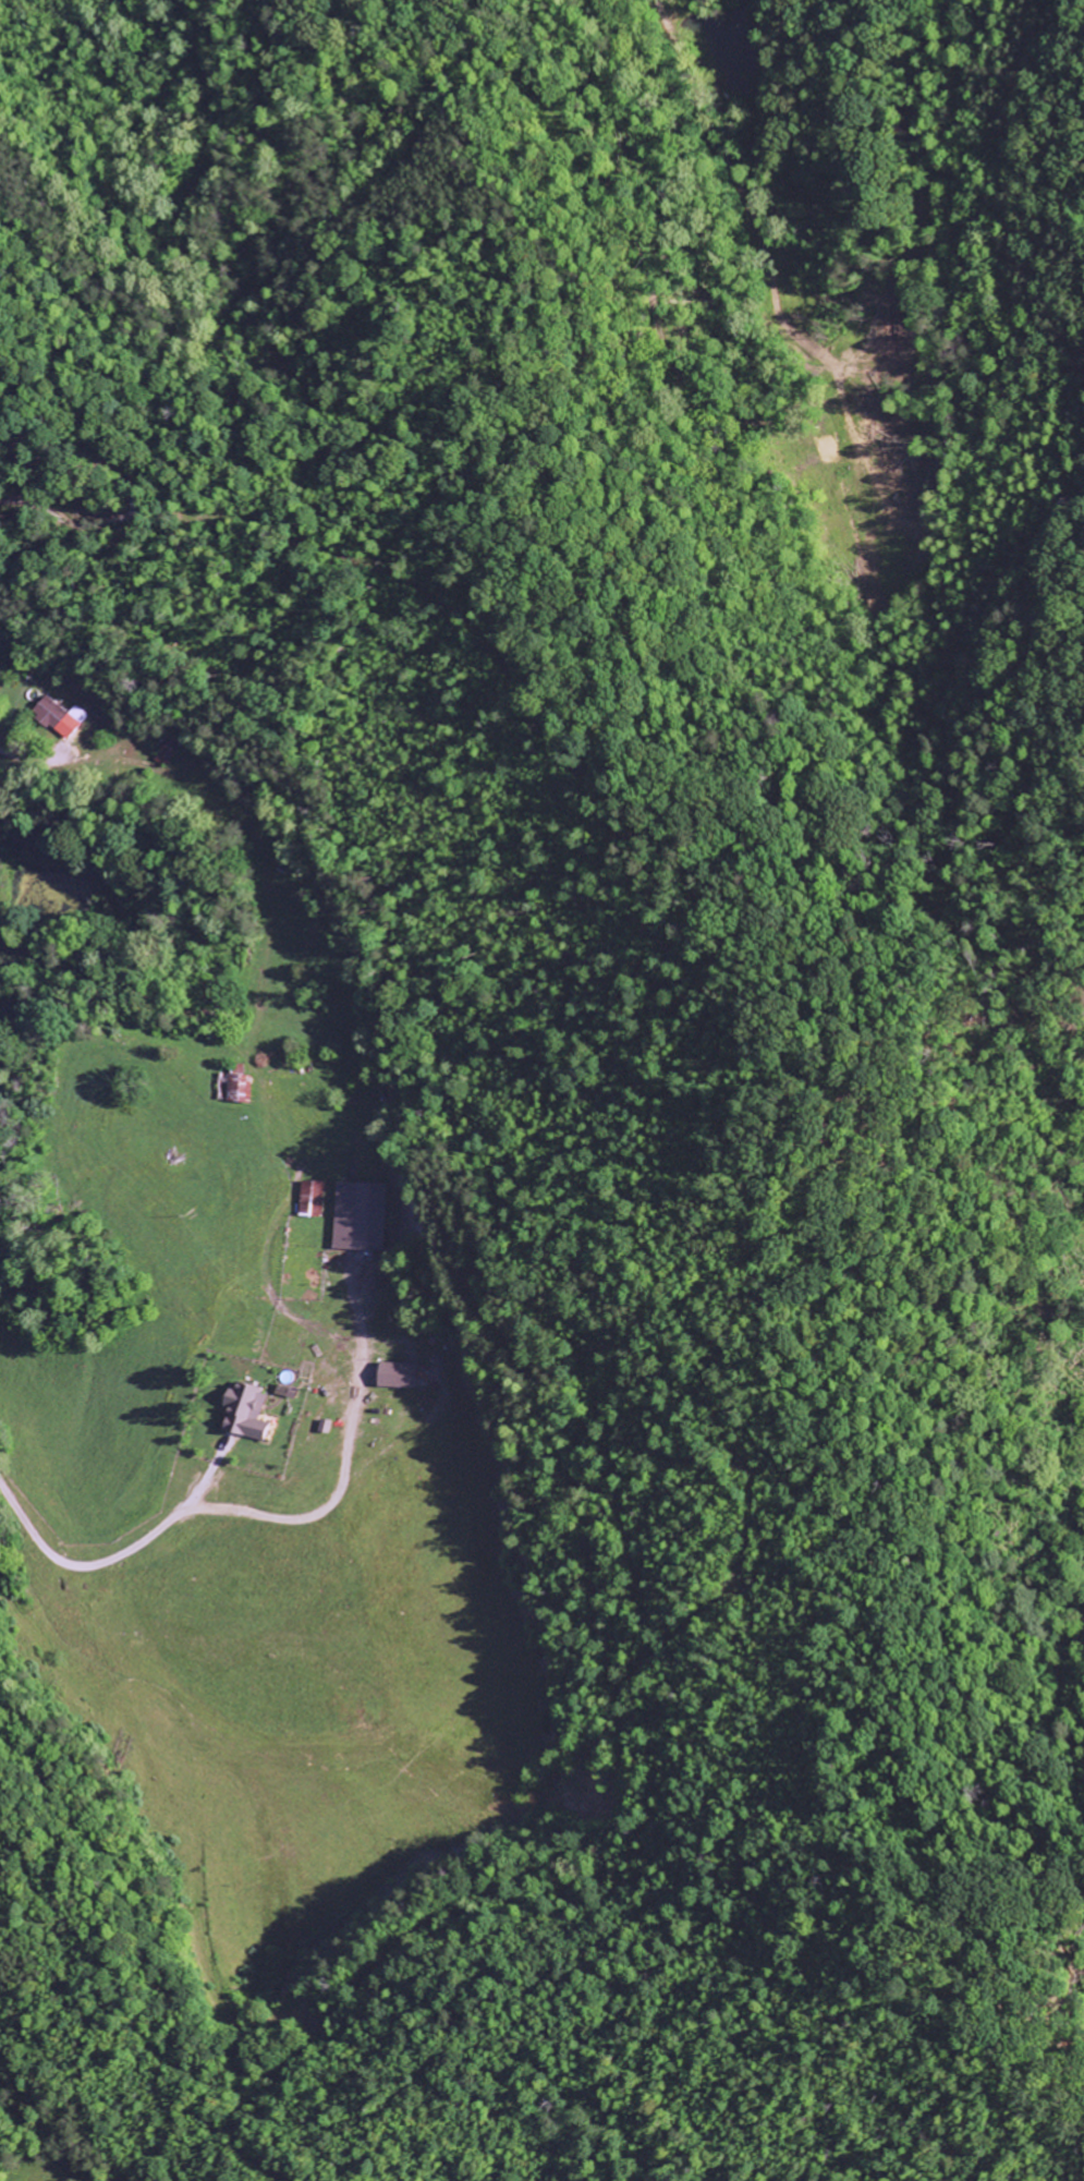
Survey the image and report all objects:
building: (61, 716)
building: (241, 1089)
building: (307, 1198)
building: (353, 1215)
building: (402, 1374)
building: (256, 1411)

